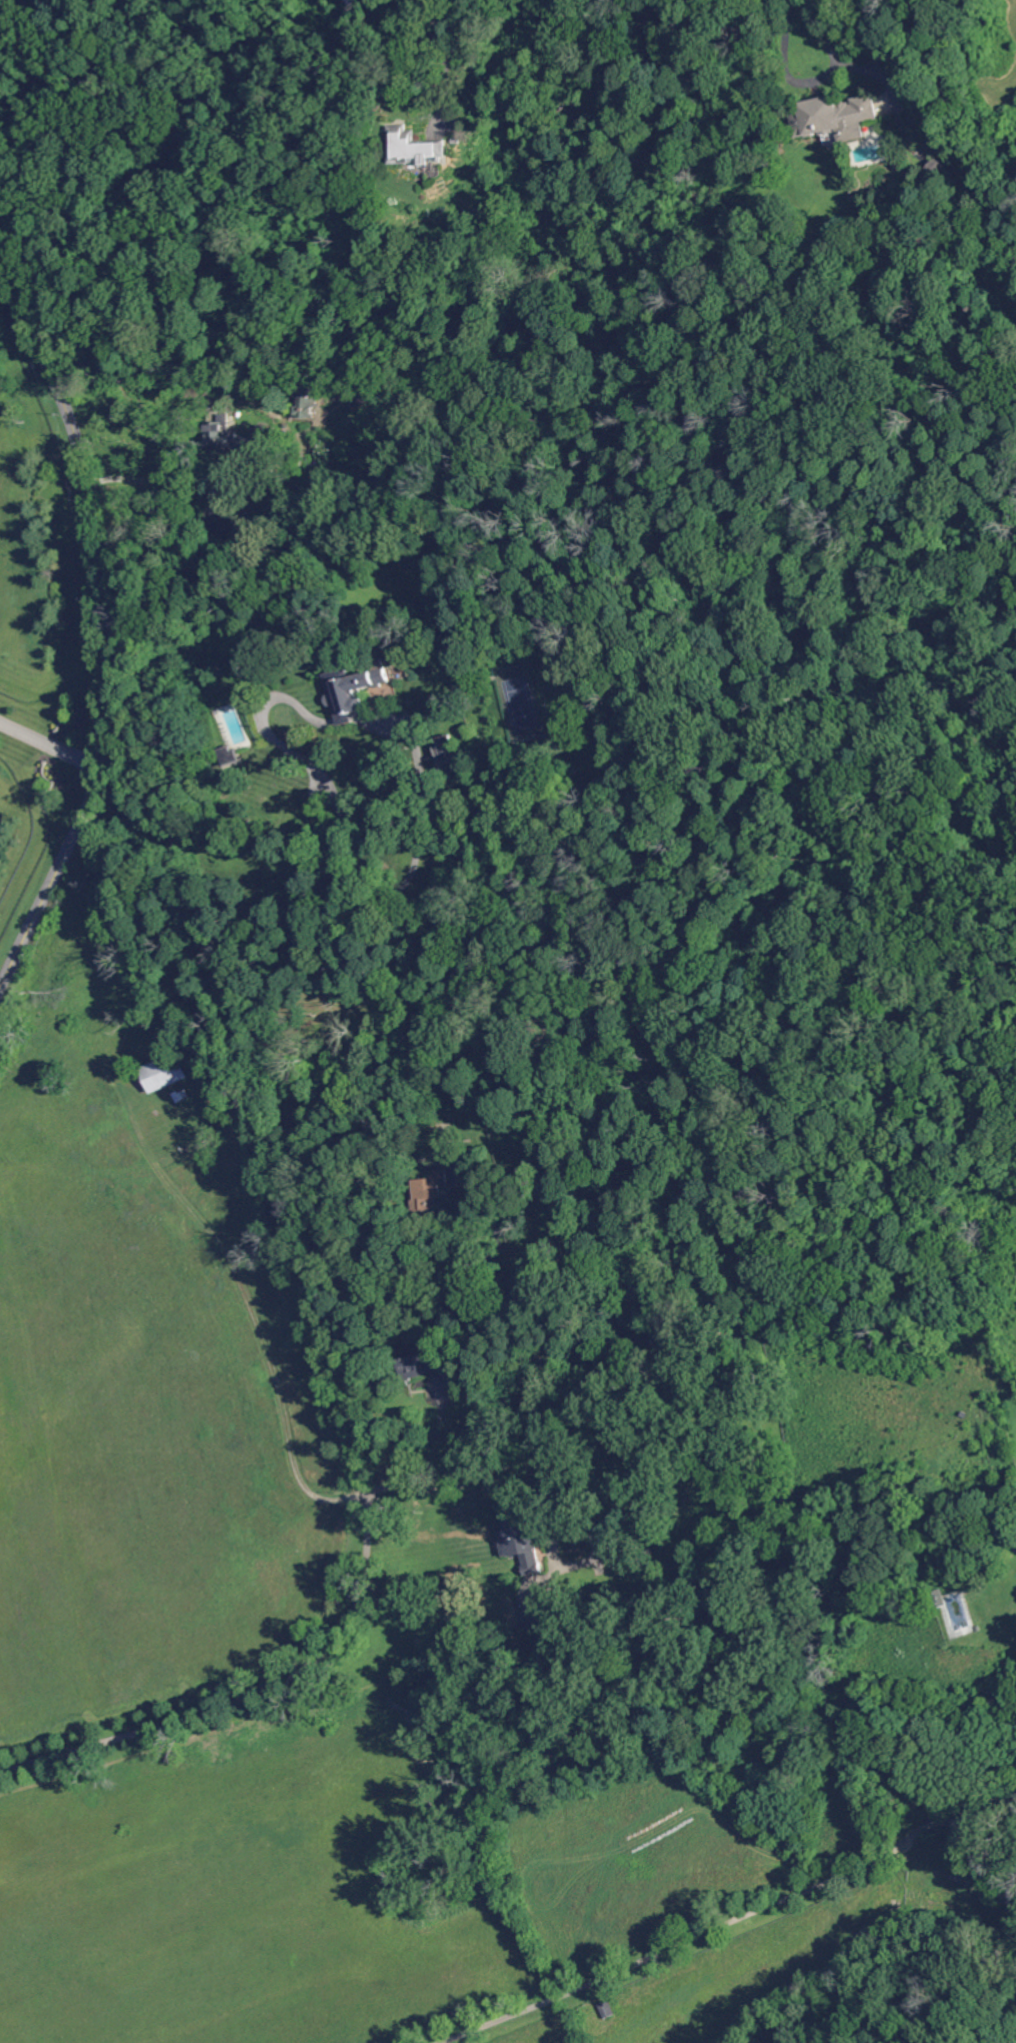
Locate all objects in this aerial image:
building: (355, 2)
road: (810, 40)
road: (444, 54)
building: (839, 116)
building: (459, 138)
building: (415, 147)
building: (938, 170)
building: (234, 431)
road: (153, 481)
building: (226, 520)
road: (103, 631)
building: (354, 687)
road: (51, 745)
building: (449, 752)
building: (230, 754)
road: (312, 766)
building: (453, 811)
road: (417, 863)
building: (166, 1073)
road: (348, 1086)
building: (180, 1095)
building: (431, 1191)
building: (534, 1283)
road: (452, 1287)
road: (248, 1307)
building: (420, 1359)
building: (458, 1376)
road: (354, 1461)
road: (499, 1469)
building: (524, 1542)
building: (544, 1614)
road: (199, 1711)
building: (1000, 1885)
building: (506, 1887)
road: (729, 1921)
building: (607, 2009)

